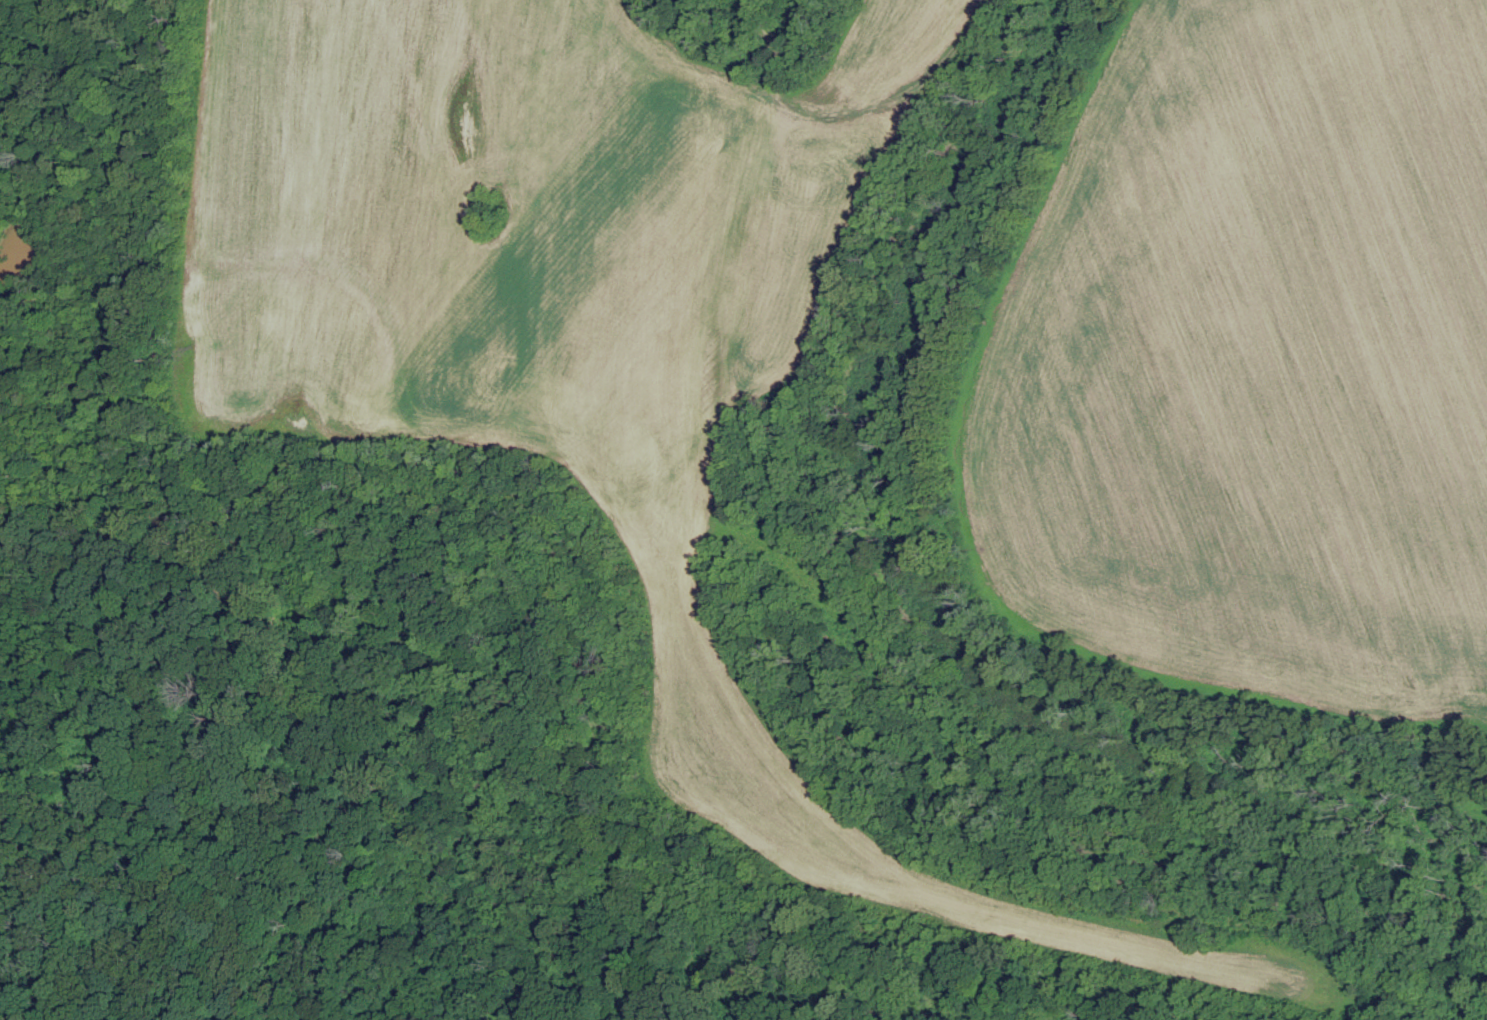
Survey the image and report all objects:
road: (27, 976)

